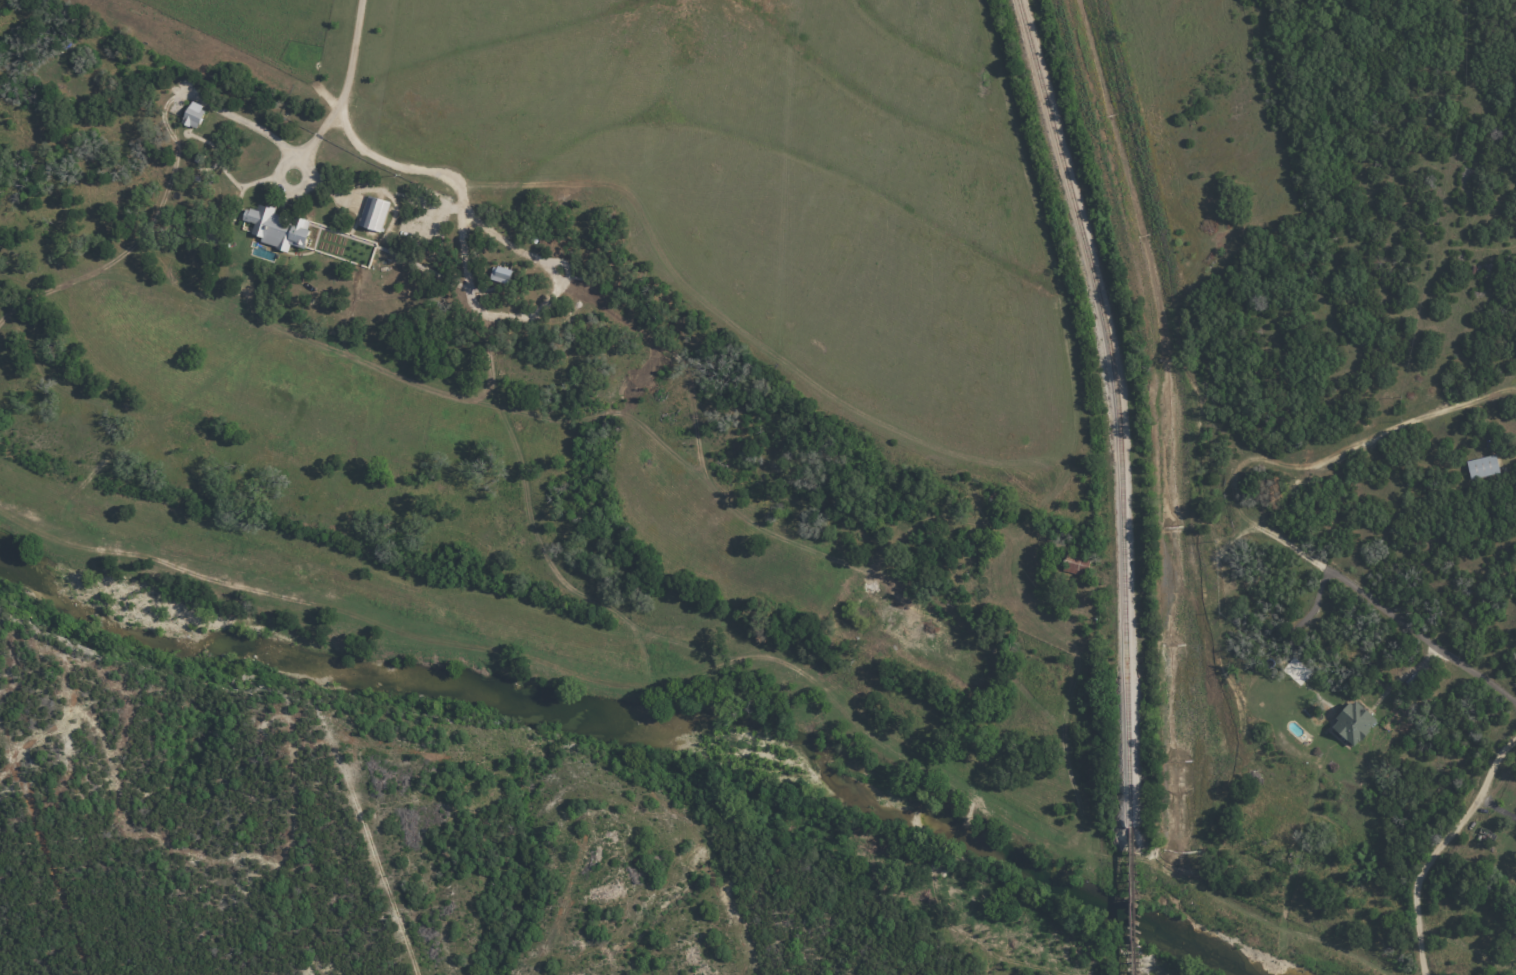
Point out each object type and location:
building: (193, 115)
road: (255, 127)
road: (349, 135)
road: (307, 176)
road: (242, 184)
road: (323, 187)
building: (373, 213)
building: (277, 228)
building: (501, 274)
road: (531, 314)
railway: (1117, 408)
building: (1482, 467)
road: (1239, 510)
road: (1291, 650)
road: (1401, 685)
building: (1353, 723)
river: (645, 743)
road: (1498, 809)
road: (1440, 849)
railway: (1129, 902)

